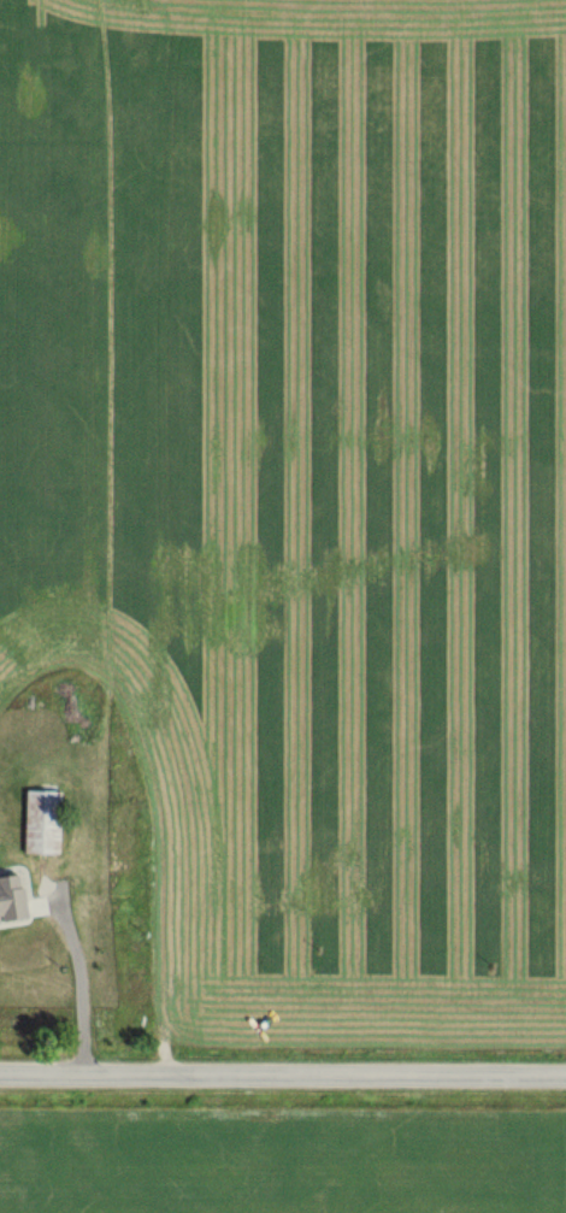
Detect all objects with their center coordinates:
building: (42, 820)
building: (12, 896)
road: (282, 1070)

